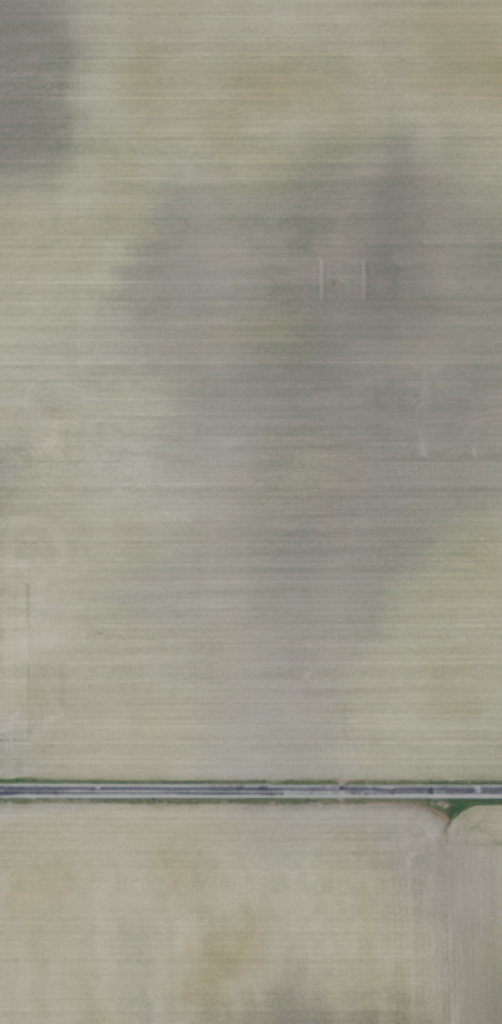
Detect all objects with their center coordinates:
road: (250, 791)

